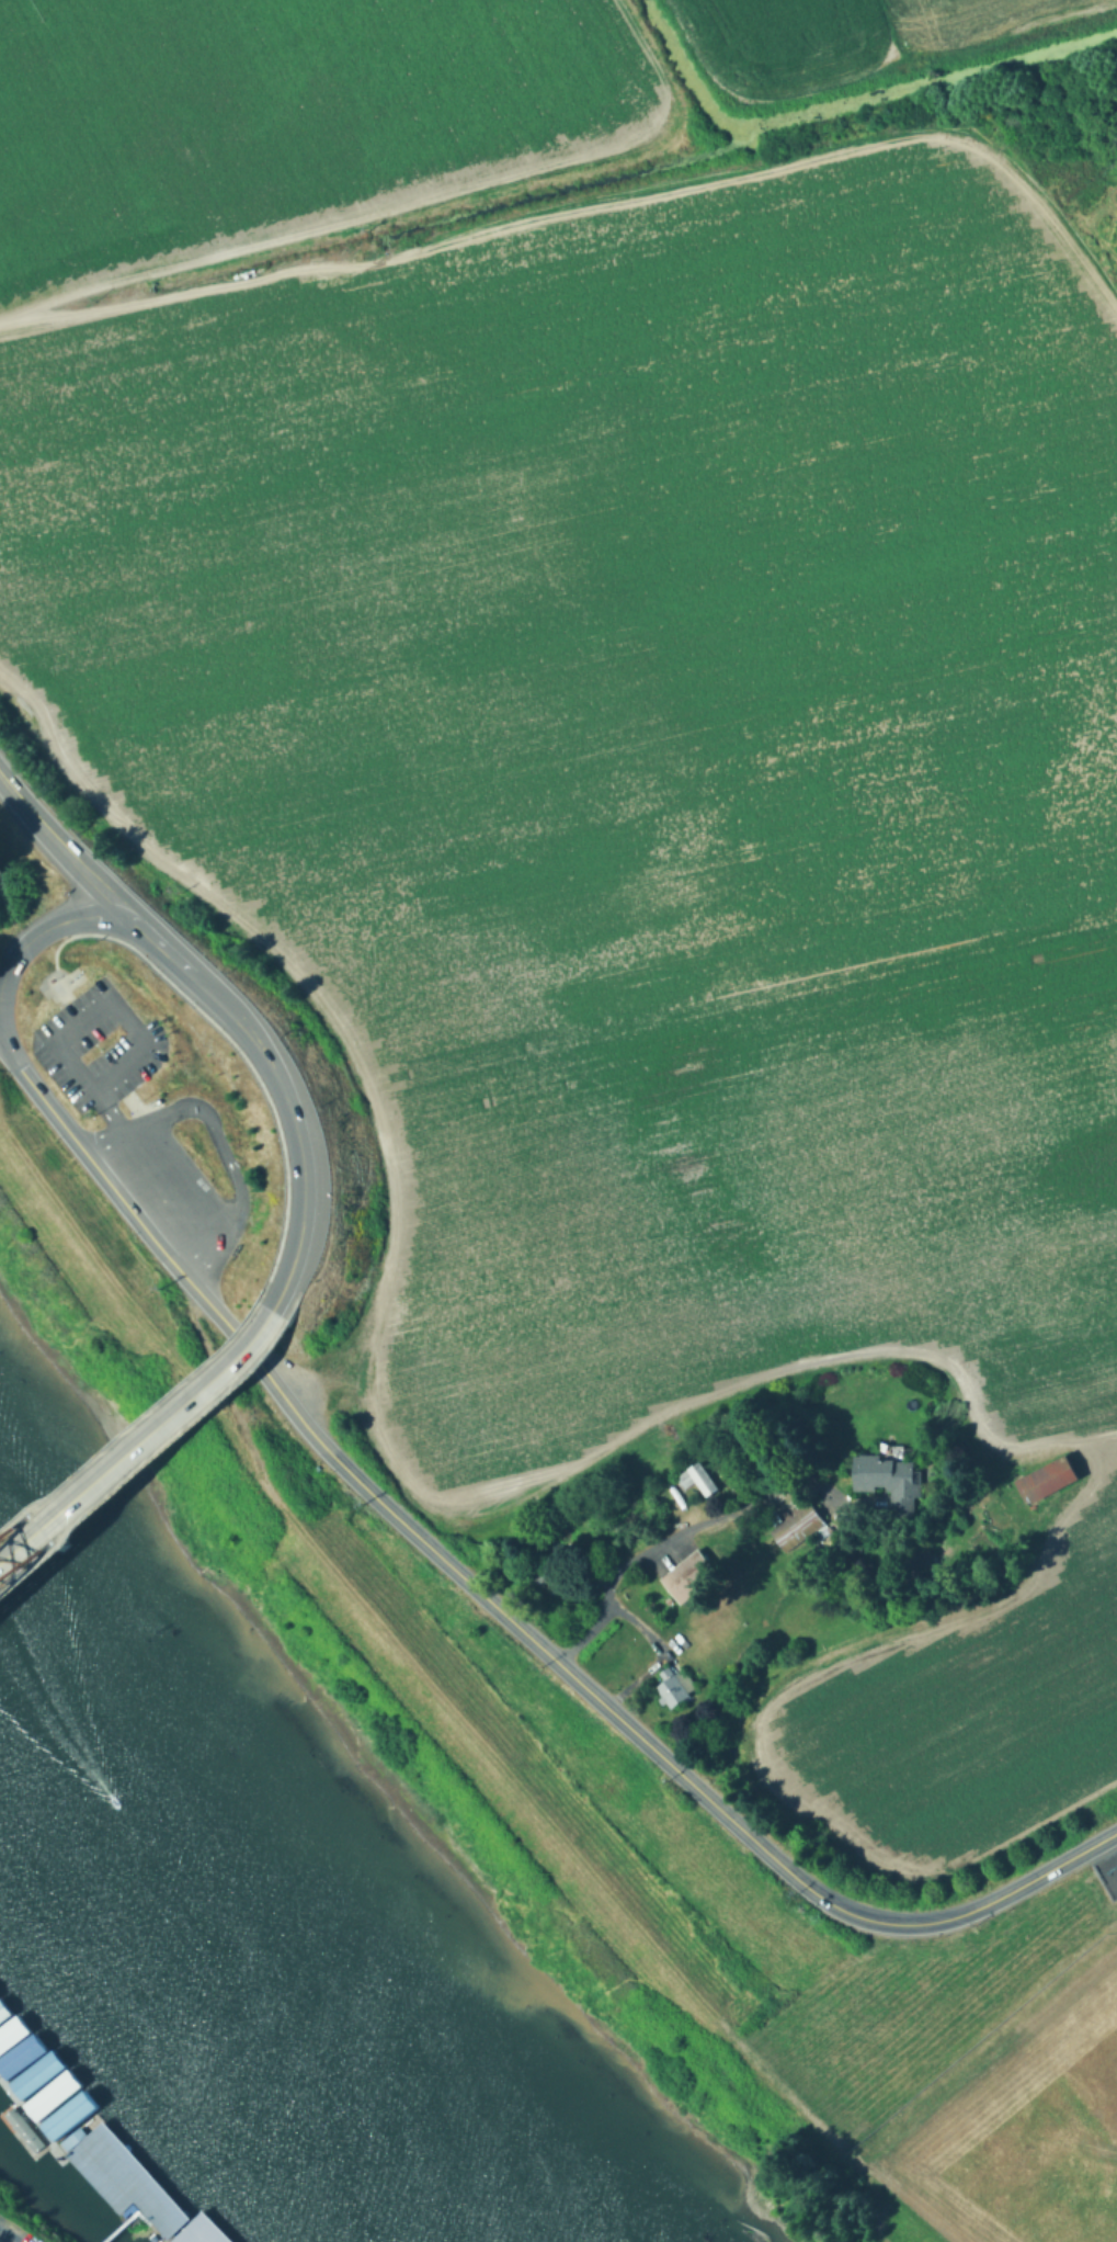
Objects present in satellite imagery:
crop: (845, 31)
crop: (284, 113)
crop: (645, 748)
road: (64, 852)
road: (52, 928)
road: (158, 944)
road: (56, 977)
flagpole: (49, 978)
road: (207, 994)
road: (60, 1039)
parking lot: (61, 1042)
road: (253, 1080)
road: (129, 1098)
road: (41, 1099)
road: (106, 1113)
road: (114, 1137)
road: (215, 1141)
road: (297, 1160)
road: (189, 1174)
road: (167, 1189)
road: (152, 1200)
road: (130, 1215)
road: (204, 1252)
road: (130, 1420)
road: (137, 1437)
road: (160, 1440)
building: (688, 1471)
building: (1040, 1471)
building: (886, 1474)
building: (790, 1522)
road: (679, 1538)
building: (685, 1579)
road: (467, 1585)
building: (670, 1683)
crop: (976, 1701)
road: (1062, 1864)
road: (890, 1925)
river: (251, 1956)
building: (13, 2046)
building: (32, 2076)
building: (47, 2097)
building: (65, 2118)
road: (1073, 2133)
pier: (88, 2141)
building: (122, 2183)
pier: (149, 2228)
parking lot: (13, 2232)
building: (200, 2232)

